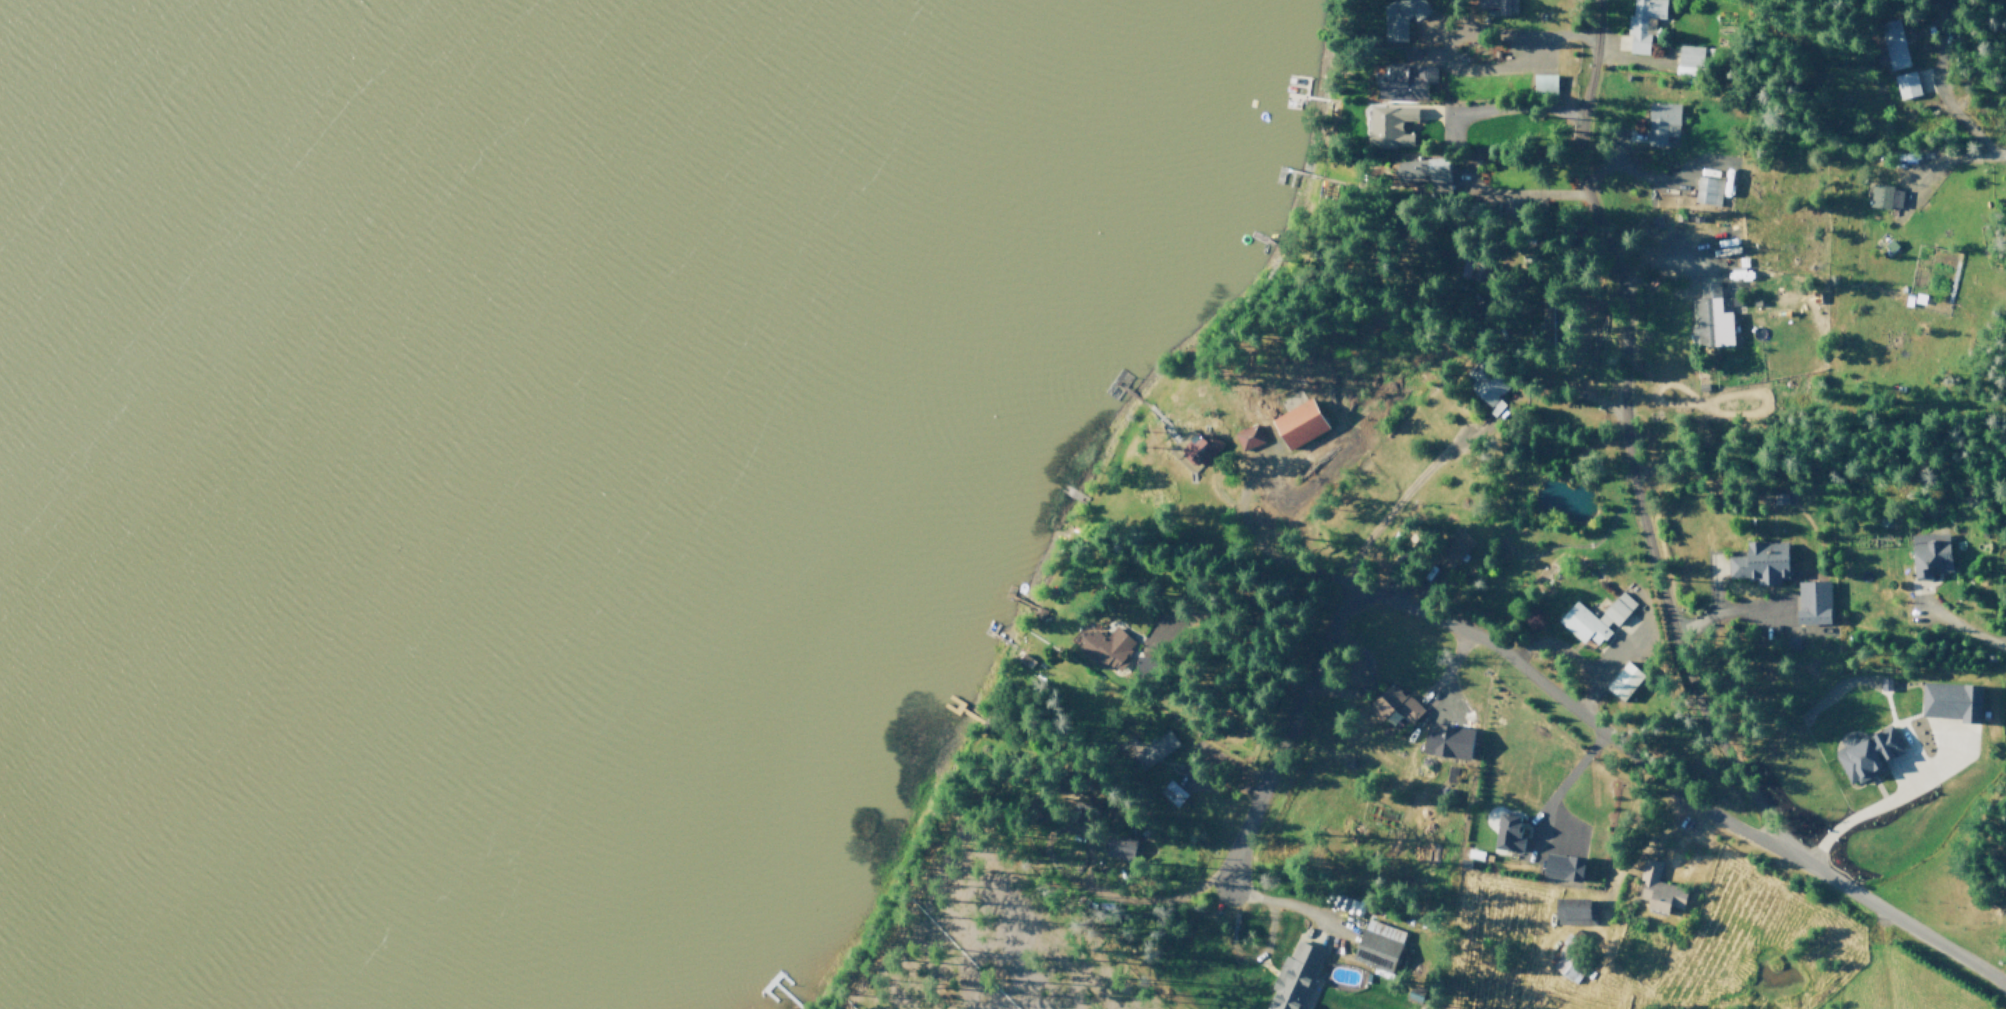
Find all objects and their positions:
road: (1596, 0)
building: (1489, 7)
building: (1403, 16)
building: (1646, 28)
road: (1510, 38)
building: (1896, 60)
building: (1690, 64)
road: (1628, 65)
road: (1482, 71)
building: (1406, 81)
building: (1548, 83)
road: (1591, 97)
road: (1953, 101)
building: (1660, 123)
building: (1392, 131)
road: (1454, 152)
road: (1941, 163)
building: (1423, 171)
road: (1628, 176)
building: (1706, 191)
building: (1878, 199)
road: (1663, 263)
building: (1475, 272)
building: (1550, 316)
building: (1707, 320)
road: (1542, 377)
building: (1489, 385)
building: (1296, 420)
building: (1251, 433)
building: (1204, 446)
river: (184, 454)
road: (1393, 507)
road: (1240, 530)
road: (1647, 538)
building: (1450, 547)
building: (1928, 554)
building: (1761, 562)
road: (1418, 575)
road: (1714, 585)
road: (1212, 598)
building: (1812, 602)
road: (1728, 611)
building: (1598, 615)
road: (1950, 624)
road: (2005, 645)
building: (1108, 648)
building: (1150, 667)
road: (1602, 672)
road: (1450, 677)
building: (1623, 680)
road: (1369, 681)
building: (1951, 702)
building: (1394, 708)
road: (1283, 735)
building: (1450, 745)
building: (1153, 750)
building: (1862, 755)
road: (1900, 776)
road: (947, 783)
road: (1211, 784)
road: (1670, 787)
building: (1176, 791)
road: (1559, 791)
road: (1891, 801)
building: (1506, 832)
building: (1124, 847)
road: (1635, 849)
building: (1563, 868)
building: (1655, 888)
road: (1310, 910)
building: (1570, 910)
road: (1070, 914)
road: (1334, 923)
building: (1379, 944)
road: (1259, 956)
building: (1570, 956)
road: (1264, 963)
building: (1294, 975)
road: (2004, 982)
building: (1414, 995)

